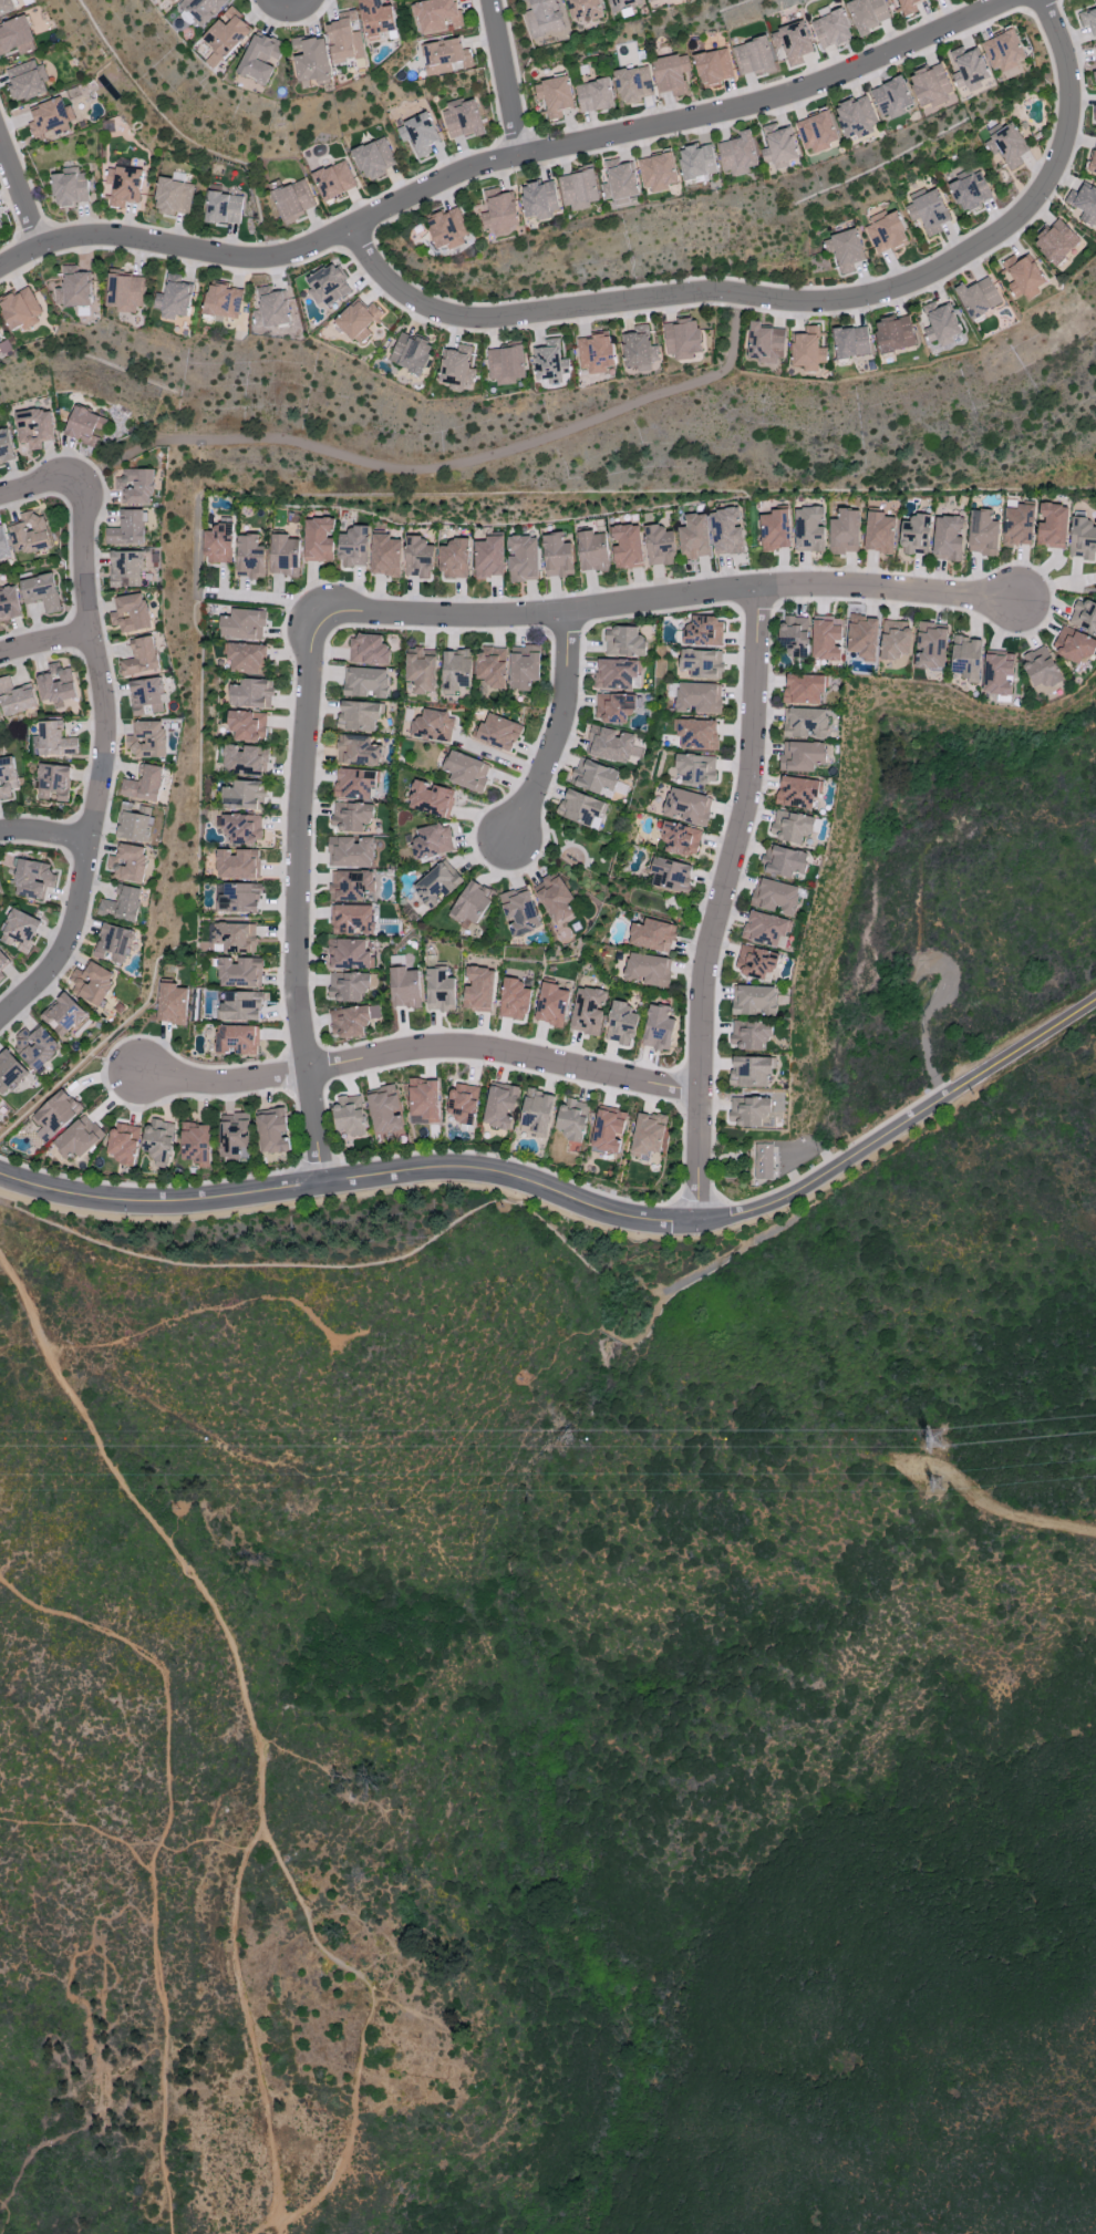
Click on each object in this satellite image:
building: (174, 0)
building: (650, 0)
building: (889, 0)
building: (932, 0)
building: (622, 4)
road: (1035, 4)
building: (4, 6)
road: (293, 6)
building: (908, 7)
building: (205, 9)
building: (585, 9)
building: (436, 14)
building: (868, 14)
building: (376, 17)
building: (544, 18)
building: (1088, 20)
road: (288, 23)
building: (830, 29)
building: (15, 35)
building: (226, 37)
building: (345, 38)
building: (792, 42)
building: (1095, 49)
building: (1004, 52)
building: (445, 56)
building: (753, 56)
building: (260, 58)
building: (310, 59)
building: (713, 69)
building: (970, 72)
building: (671, 73)
building: (1094, 75)
road: (506, 76)
building: (25, 81)
building: (633, 84)
building: (932, 89)
building: (593, 95)
building: (554, 96)
building: (891, 97)
road: (691, 103)
building: (1094, 113)
building: (462, 117)
building: (856, 117)
building: (50, 120)
building: (816, 132)
building: (418, 134)
building: (1006, 146)
building: (782, 147)
building: (738, 154)
road: (510, 156)
building: (374, 158)
building: (1093, 162)
building: (658, 172)
building: (333, 180)
road: (29, 183)
building: (620, 183)
building: (122, 185)
building: (69, 186)
building: (578, 189)
building: (970, 192)
road: (21, 194)
building: (173, 197)
building: (540, 199)
building: (293, 200)
building: (1084, 204)
building: (223, 208)
road: (10, 209)
road: (347, 210)
building: (928, 213)
building: (500, 214)
building: (0, 226)
building: (447, 228)
building: (886, 234)
building: (1056, 241)
road: (9, 245)
road: (1002, 246)
building: (845, 251)
road: (168, 257)
building: (1022, 277)
building: (328, 286)
building: (75, 290)
building: (125, 291)
building: (174, 297)
building: (978, 297)
road: (446, 299)
building: (223, 301)
road: (796, 306)
building: (20, 309)
building: (271, 309)
building: (358, 321)
building: (941, 325)
road: (503, 329)
building: (893, 334)
building: (681, 339)
building: (850, 342)
building: (765, 343)
building: (638, 347)
building: (807, 349)
building: (411, 352)
building: (594, 352)
building: (505, 364)
building: (456, 368)
building: (81, 424)
building: (33, 427)
building: (6, 447)
road: (50, 455)
road: (445, 466)
building: (135, 485)
road: (35, 486)
building: (1017, 526)
building: (1052, 526)
building: (127, 529)
building: (808, 529)
building: (775, 530)
building: (726, 531)
building: (844, 531)
building: (878, 532)
building: (982, 532)
building: (30, 534)
building: (916, 535)
building: (693, 537)
building: (948, 538)
building: (1082, 538)
building: (318, 539)
building: (3, 544)
building: (218, 544)
building: (627, 546)
building: (658, 546)
building: (353, 547)
building: (592, 551)
building: (283, 555)
building: (384, 556)
building: (557, 556)
building: (249, 557)
building: (417, 557)
building: (488, 557)
building: (523, 558)
building: (454, 559)
building: (125, 569)
road: (1052, 585)
building: (40, 592)
road: (276, 600)
road: (672, 601)
building: (9, 603)
building: (131, 613)
building: (1084, 616)
building: (242, 624)
building: (703, 631)
building: (862, 637)
building: (826, 639)
building: (895, 639)
road: (43, 641)
building: (623, 641)
building: (1073, 645)
building: (930, 647)
building: (368, 650)
road: (58, 653)
building: (141, 656)
building: (246, 658)
building: (966, 658)
building: (701, 663)
building: (492, 666)
building: (523, 666)
building: (1040, 668)
building: (422, 670)
building: (456, 670)
building: (618, 673)
building: (996, 673)
building: (365, 682)
building: (55, 684)
building: (804, 689)
building: (251, 693)
building: (15, 696)
building: (146, 696)
building: (697, 697)
building: (614, 707)
building: (358, 715)
building: (806, 723)
building: (247, 725)
road: (560, 725)
building: (432, 726)
building: (498, 732)
building: (697, 734)
building: (54, 740)
building: (147, 740)
building: (610, 744)
building: (356, 751)
building: (802, 756)
building: (244, 759)
road: (104, 763)
building: (695, 768)
building: (466, 770)
road: (115, 772)
building: (7, 777)
building: (596, 777)
building: (53, 782)
building: (144, 783)
building: (354, 783)
building: (796, 792)
building: (242, 795)
building: (431, 798)
building: (687, 806)
building: (581, 808)
building: (351, 816)
building: (136, 825)
building: (792, 826)
building: (242, 827)
road: (44, 835)
building: (680, 839)
building: (431, 841)
road: (56, 848)
building: (350, 851)
building: (785, 861)
building: (128, 862)
building: (237, 863)
building: (670, 875)
building: (32, 879)
building: (436, 883)
building: (351, 885)
building: (775, 897)
building: (555, 898)
road: (288, 899)
building: (472, 903)
building: (122, 904)
road: (720, 907)
building: (519, 912)
building: (352, 919)
building: (765, 928)
building: (19, 930)
building: (652, 935)
building: (235, 937)
building: (113, 943)
building: (349, 954)
building: (756, 962)
building: (2, 964)
building: (645, 969)
building: (239, 971)
building: (92, 983)
building: (348, 985)
building: (404, 987)
building: (478, 989)
building: (440, 990)
building: (514, 999)
building: (754, 1000)
building: (172, 1004)
building: (551, 1004)
building: (240, 1005)
building: (587, 1011)
building: (63, 1014)
building: (351, 1021)
building: (620, 1023)
building: (658, 1028)
building: (749, 1034)
building: (237, 1040)
building: (37, 1046)
road: (418, 1059)
building: (749, 1071)
building: (9, 1072)
building: (423, 1102)
building: (0, 1103)
building: (463, 1103)
building: (499, 1106)
building: (384, 1109)
building: (537, 1110)
building: (748, 1110)
building: (54, 1115)
building: (349, 1115)
building: (572, 1119)
building: (608, 1129)
building: (272, 1131)
building: (235, 1136)
building: (647, 1137)
building: (77, 1138)
building: (158, 1139)
building: (123, 1142)
building: (195, 1142)
building: (763, 1161)
road: (341, 1196)
road: (576, 1202)
power tower: (935, 1440)
power tower: (937, 1487)
road: (1014, 1516)
road: (250, 1715)
road: (323, 1778)
road: (84, 1824)
road: (157, 1857)
road: (363, 1923)
road: (369, 2019)
road: (4, 2215)
road: (263, 2221)

